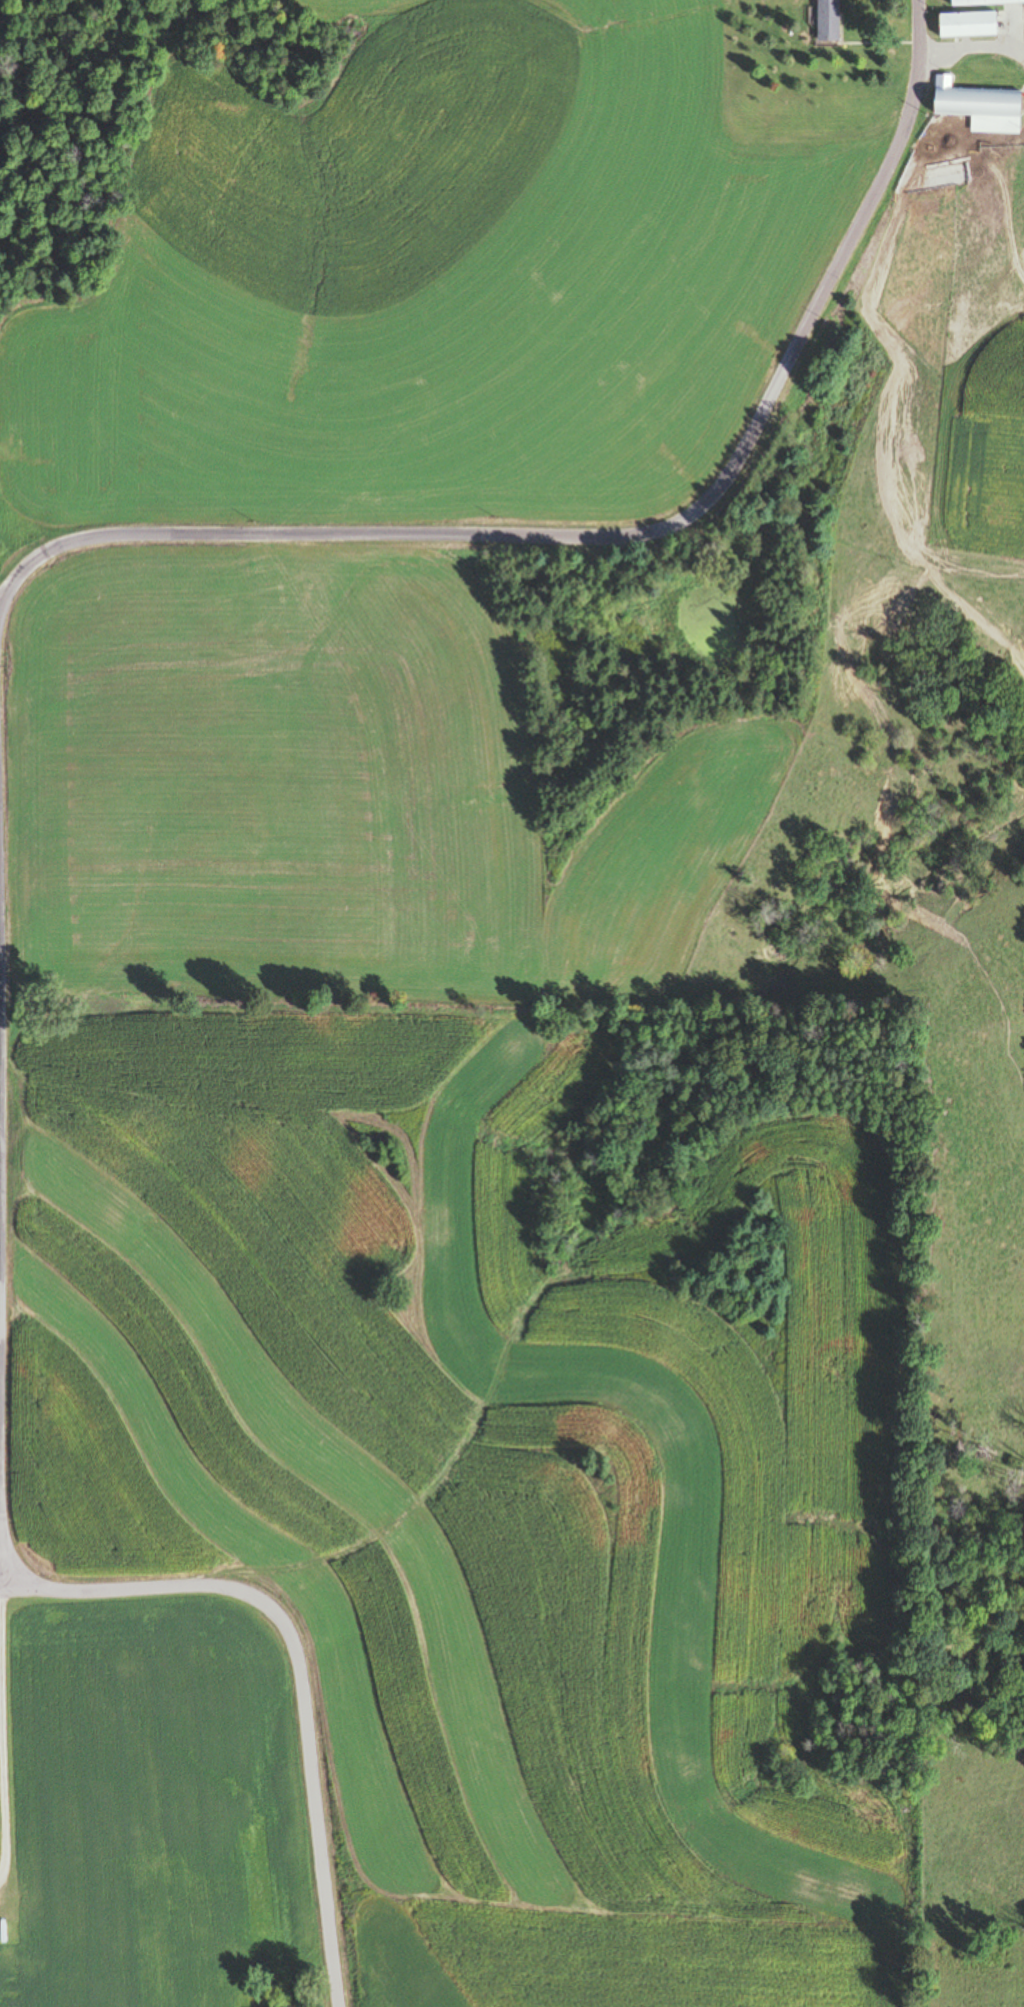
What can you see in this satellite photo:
building: (984, 2)
building: (828, 20)
building: (968, 24)
building: (980, 106)
road: (613, 538)
road: (1, 929)
road: (1, 985)
road: (2, 1279)
road: (301, 1667)
road: (1, 1762)
road: (1, 1870)

